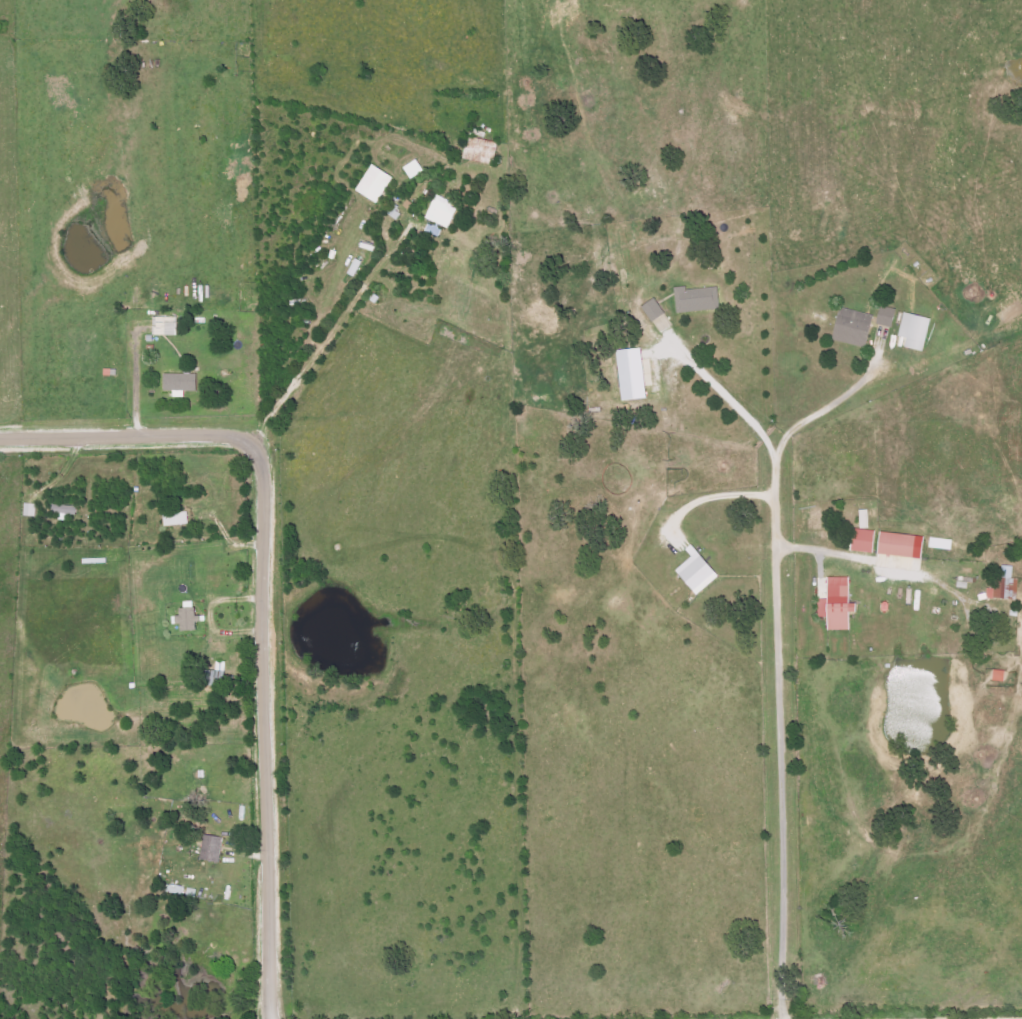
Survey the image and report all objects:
building: (479, 150)
building: (373, 184)
building: (440, 212)
building: (353, 267)
building: (695, 300)
building: (651, 310)
building: (884, 321)
building: (163, 326)
building: (850, 327)
building: (913, 331)
building: (628, 374)
building: (179, 383)
road: (119, 436)
building: (31, 510)
building: (66, 511)
building: (175, 519)
building: (694, 572)
building: (1004, 586)
building: (836, 605)
building: (185, 620)
building: (997, 675)
road: (266, 724)
road: (781, 743)
building: (210, 848)

